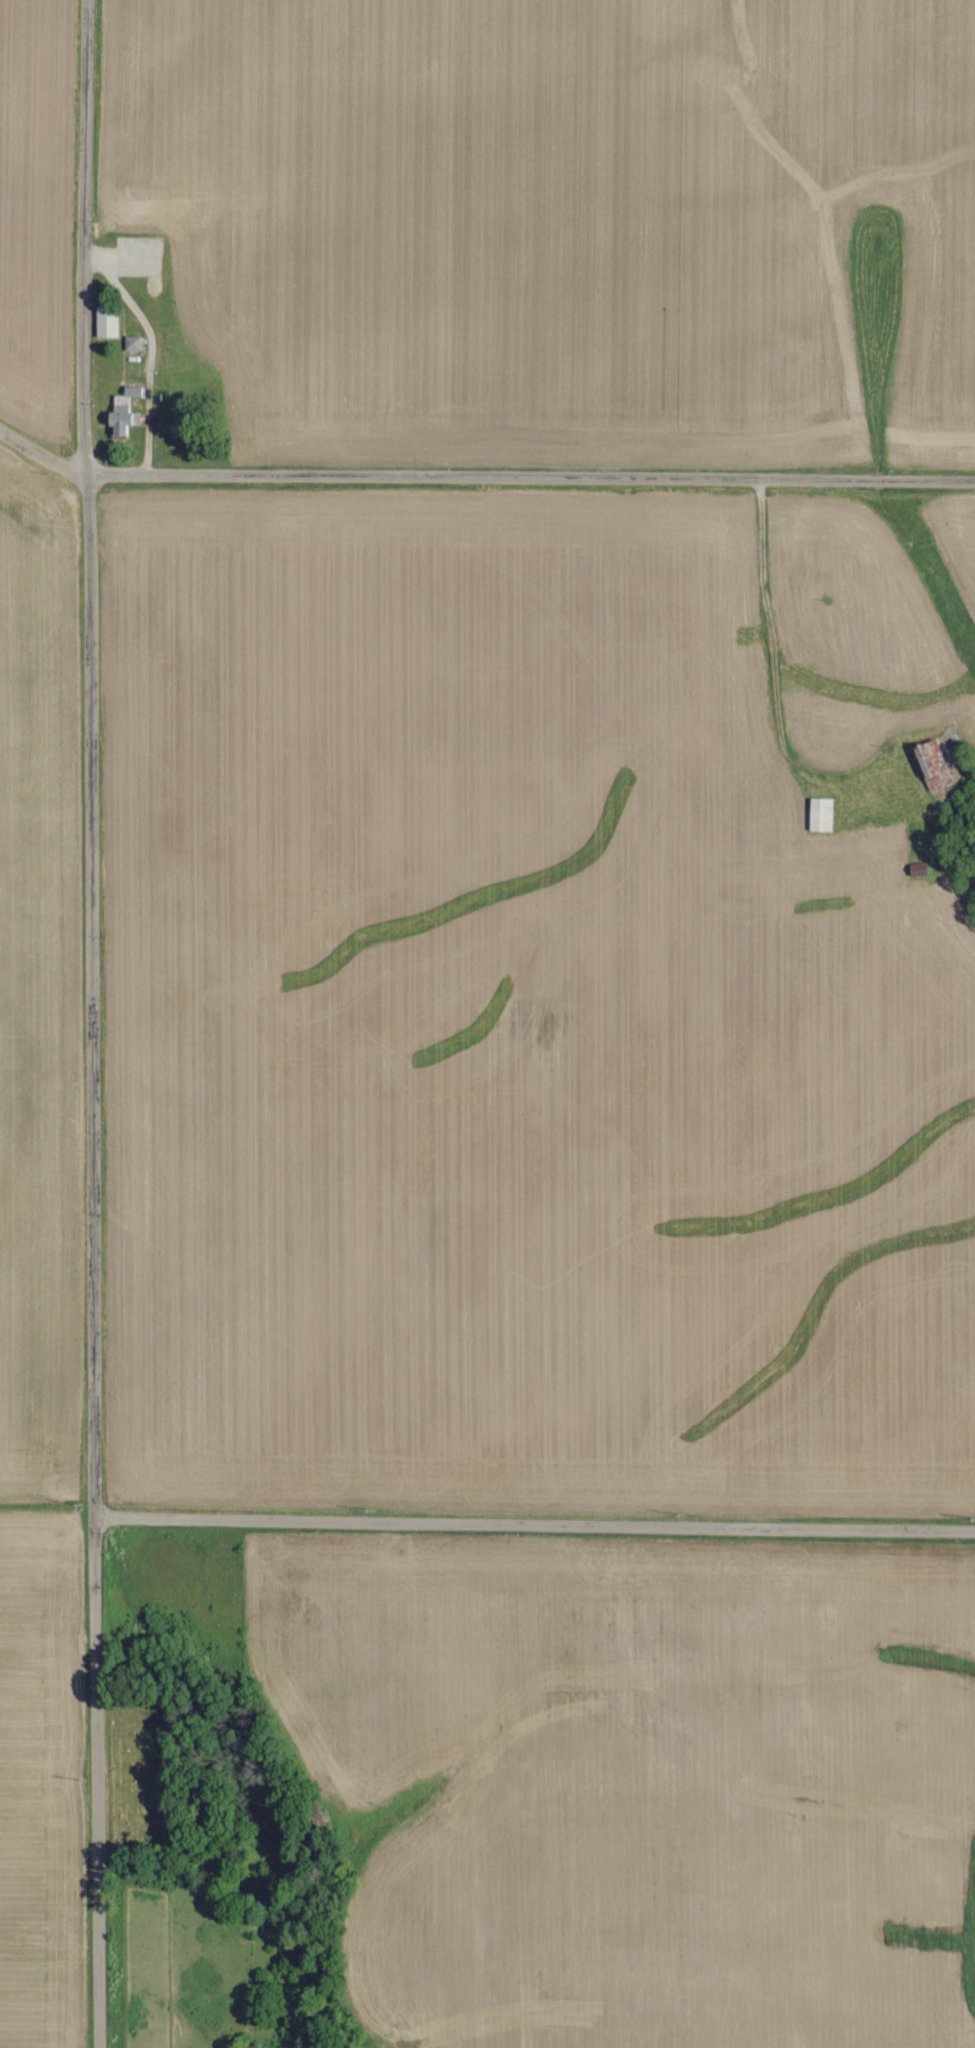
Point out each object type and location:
building: (133, 344)
road: (151, 351)
road: (481, 477)
building: (932, 764)
building: (821, 814)
road: (93, 1023)
road: (535, 1521)

